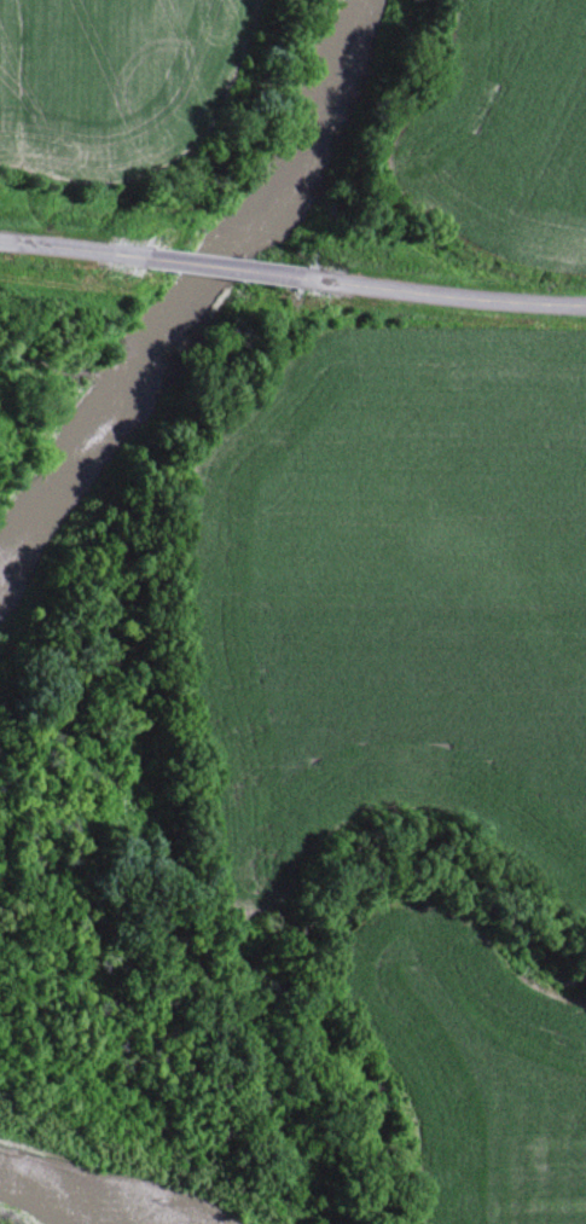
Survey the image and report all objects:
road: (63, 251)
road: (213, 263)
road: (443, 290)
river: (196, 306)
river: (89, 1189)

